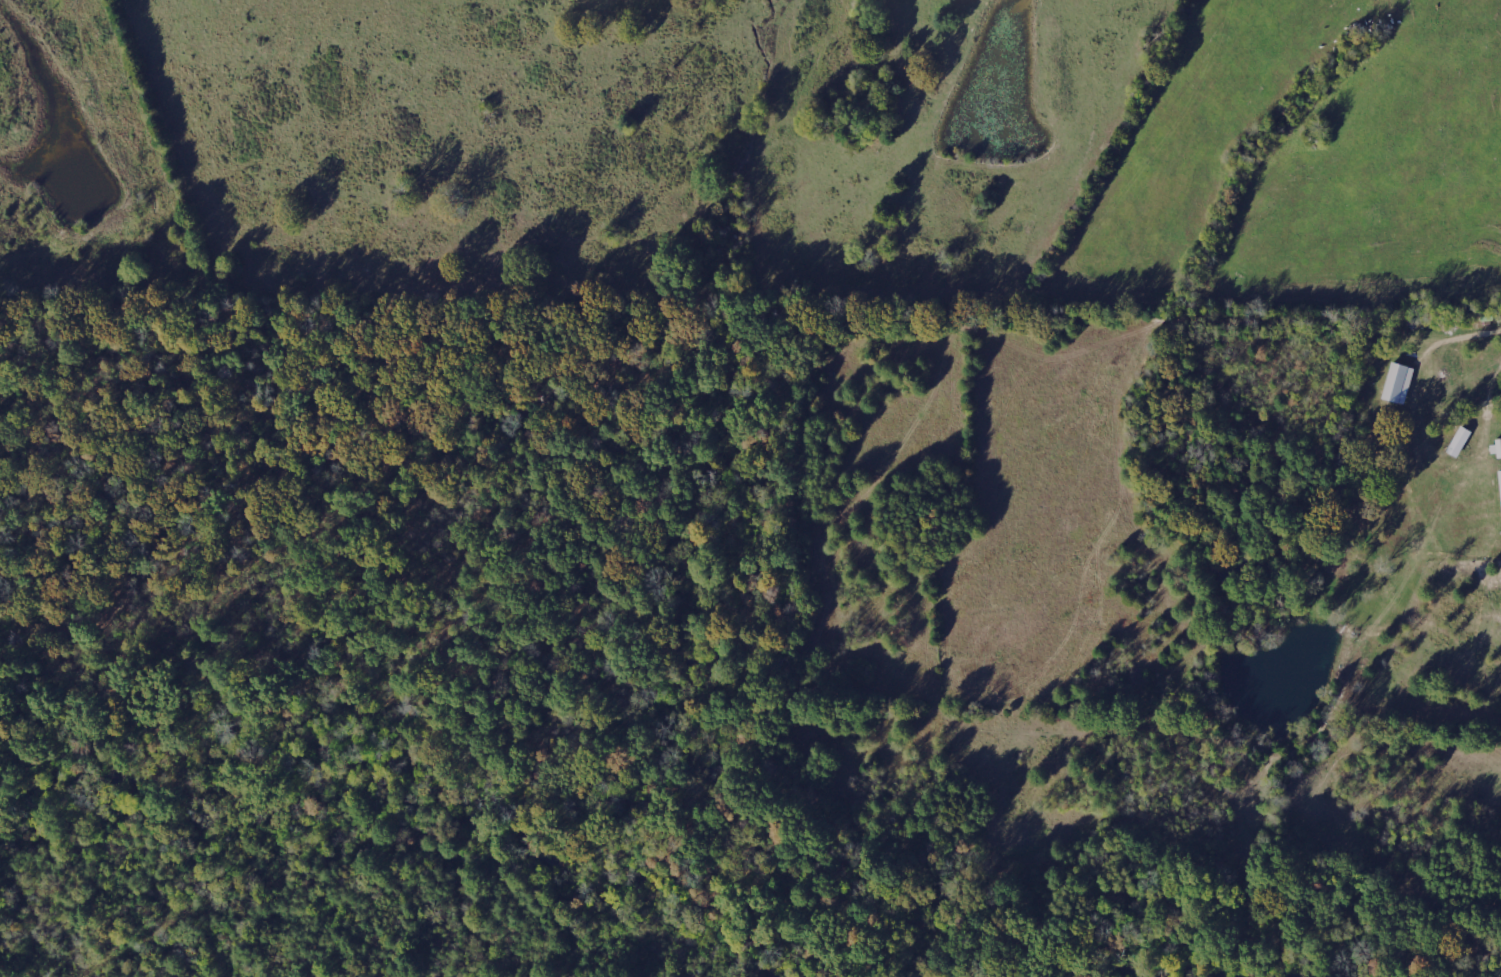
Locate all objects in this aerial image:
building: (1449, 368)
building: (1398, 383)

